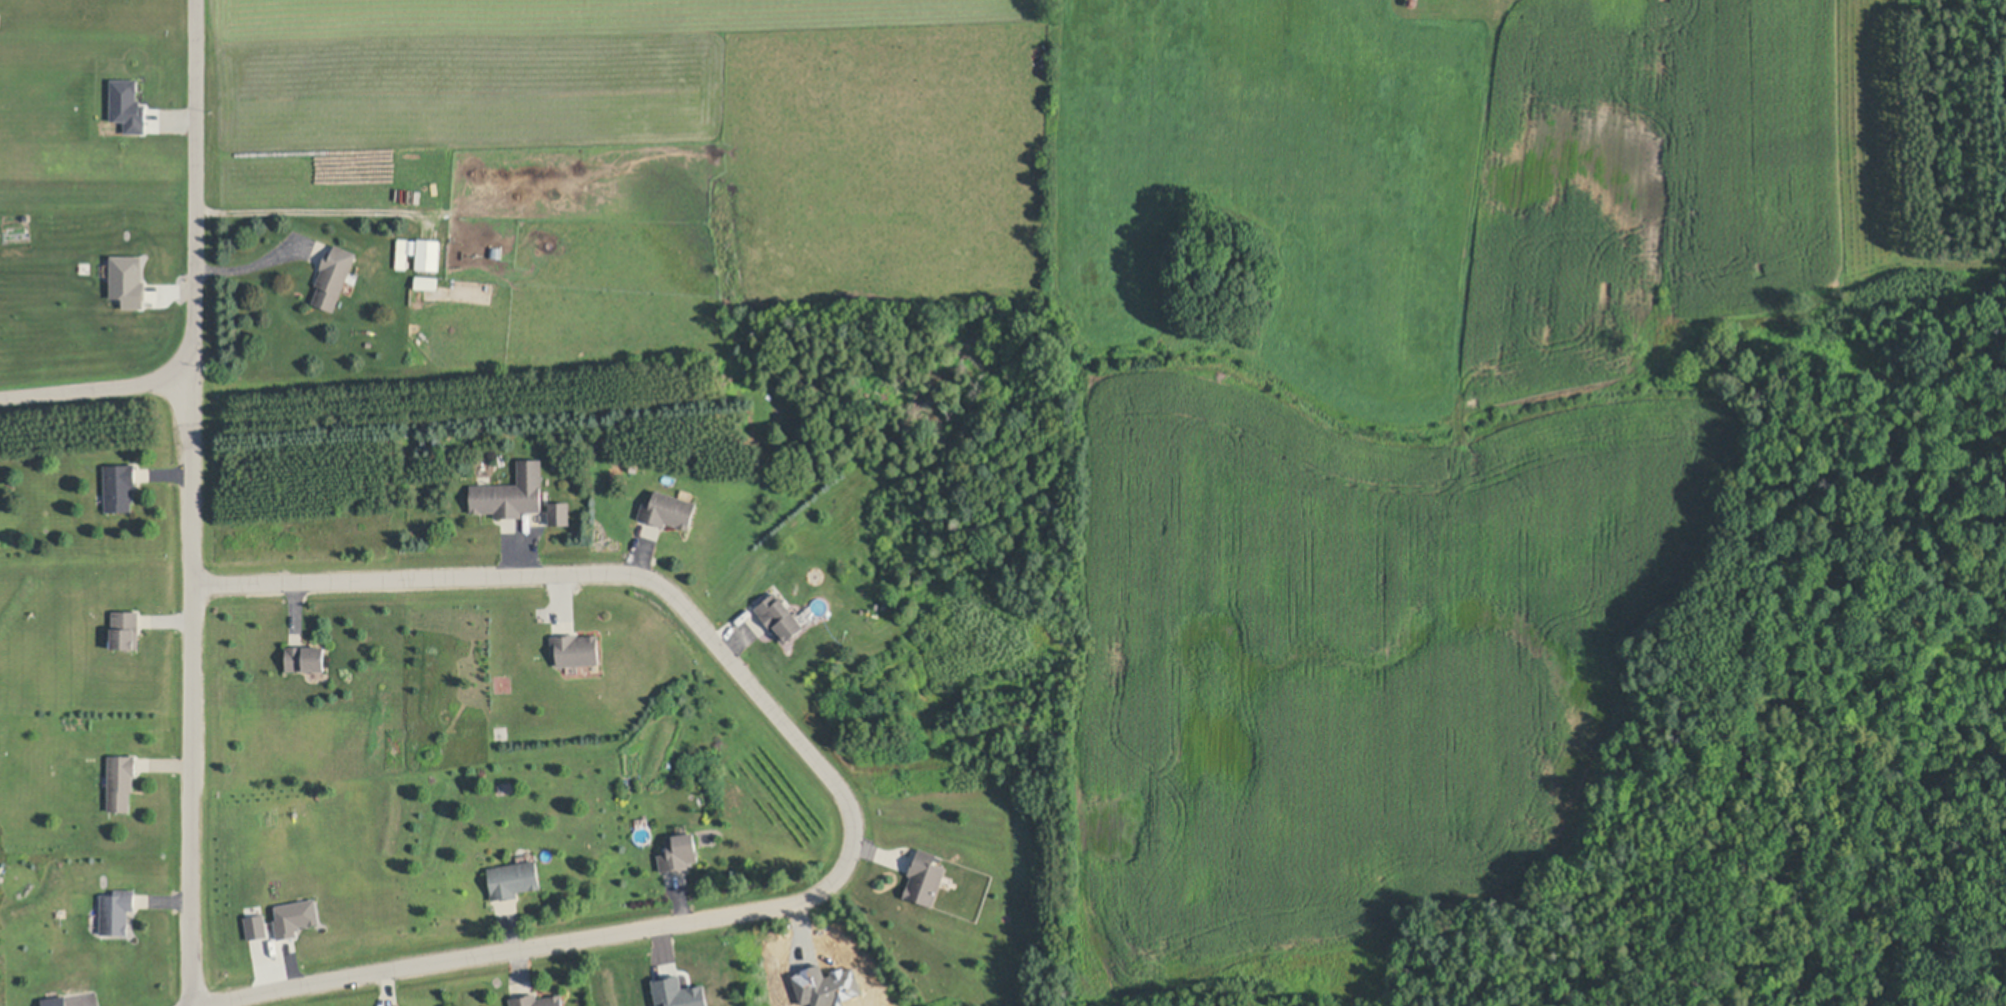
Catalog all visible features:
building: (1411, 2)
building: (130, 107)
road: (313, 207)
building: (405, 251)
building: (496, 251)
building: (428, 254)
road: (248, 260)
building: (334, 275)
building: (131, 281)
building: (426, 281)
building: (749, 375)
road: (97, 389)
building: (634, 466)
building: (120, 486)
building: (511, 492)
road: (193, 502)
building: (668, 509)
building: (559, 512)
building: (649, 530)
building: (780, 617)
building: (125, 629)
building: (576, 648)
building: (306, 657)
building: (501, 732)
building: (121, 781)
road: (840, 788)
building: (679, 852)
building: (513, 878)
building: (925, 878)
building: (117, 911)
building: (295, 916)
building: (258, 927)
building: (683, 994)
building: (537, 1000)
building: (57, 1002)

